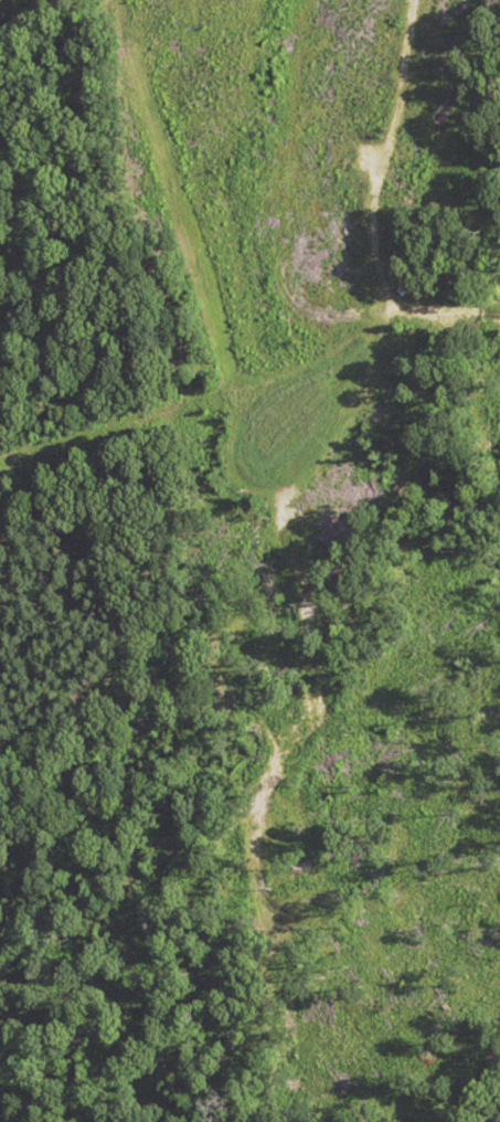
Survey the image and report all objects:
road: (9, 8)

